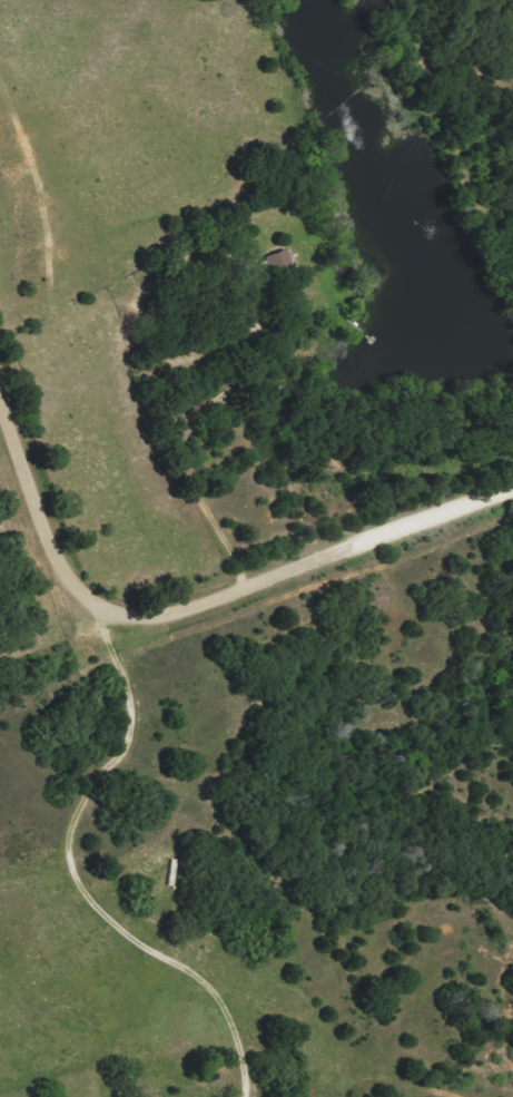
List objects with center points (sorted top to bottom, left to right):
road: (203, 598)
road: (43, 626)
road: (76, 879)

